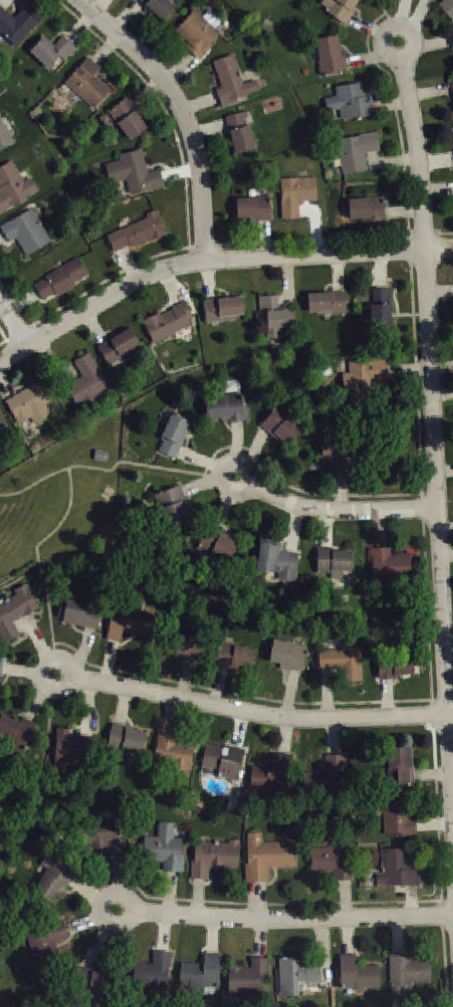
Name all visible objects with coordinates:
road: (2, 2)
road: (99, 5)
building: (159, 7)
building: (447, 7)
park: (254, 8)
building: (340, 8)
road: (386, 12)
road: (403, 13)
road: (127, 15)
road: (418, 17)
building: (16, 24)
road: (81, 26)
road: (366, 26)
road: (392, 26)
building: (197, 33)
road: (432, 45)
road: (107, 48)
building: (52, 49)
building: (330, 55)
road: (366, 58)
road: (179, 67)
building: (231, 80)
building: (88, 82)
building: (452, 82)
road: (148, 90)
road: (430, 92)
building: (350, 101)
road: (201, 104)
road: (392, 104)
road: (166, 110)
road: (183, 111)
building: (128, 117)
road: (210, 129)
building: (240, 132)
building: (5, 135)
building: (356, 150)
road: (436, 161)
road: (390, 162)
building: (134, 172)
road: (180, 172)
building: (13, 186)
road: (437, 188)
building: (296, 194)
building: (254, 208)
building: (367, 208)
road: (403, 211)
road: (315, 226)
building: (26, 231)
road: (432, 231)
building: (138, 232)
road: (2, 234)
road: (264, 238)
road: (193, 246)
road: (229, 258)
road: (128, 264)
road: (381, 269)
road: (339, 272)
building: (61, 278)
road: (209, 279)
road: (288, 282)
road: (170, 286)
road: (440, 291)
road: (23, 301)
building: (328, 302)
building: (223, 308)
building: (380, 309)
building: (276, 314)
road: (13, 321)
building: (169, 321)
road: (95, 327)
road: (6, 341)
building: (119, 346)
road: (13, 352)
road: (54, 362)
road: (442, 367)
road: (409, 368)
building: (364, 374)
building: (88, 382)
road: (5, 387)
road: (442, 392)
building: (30, 402)
building: (226, 407)
building: (281, 426)
building: (4, 427)
building: (174, 435)
road: (434, 437)
road: (237, 440)
road: (256, 446)
road: (420, 448)
building: (338, 453)
building: (101, 455)
road: (198, 459)
road: (101, 469)
road: (444, 471)
road: (199, 485)
road: (299, 489)
road: (343, 491)
road: (286, 501)
park: (64, 503)
building: (173, 506)
road: (222, 511)
road: (295, 528)
road: (326, 528)
road: (381, 528)
road: (446, 528)
building: (217, 544)
road: (38, 555)
road: (446, 555)
building: (277, 558)
building: (333, 559)
building: (388, 565)
building: (15, 611)
building: (79, 612)
building: (130, 623)
road: (35, 634)
road: (448, 638)
building: (185, 641)
road: (85, 647)
building: (288, 654)
building: (234, 656)
road: (109, 661)
building: (342, 661)
building: (1, 664)
building: (395, 666)
road: (449, 667)
road: (20, 669)
road: (187, 677)
road: (219, 685)
road: (291, 693)
road: (245, 694)
road: (328, 694)
road: (388, 697)
road: (201, 702)
road: (37, 703)
road: (123, 706)
road: (89, 708)
road: (171, 716)
road: (451, 720)
road: (240, 729)
building: (15, 732)
road: (285, 735)
road: (333, 737)
building: (126, 738)
building: (73, 742)
building: (174, 754)
building: (225, 761)
building: (400, 765)
road: (432, 774)
building: (273, 775)
building: (328, 776)
road: (452, 796)
road: (39, 804)
building: (398, 816)
road: (434, 825)
building: (107, 835)
building: (164, 848)
building: (213, 856)
building: (267, 856)
building: (333, 861)
building: (397, 868)
road: (118, 874)
building: (53, 878)
road: (86, 889)
road: (171, 892)
road: (198, 897)
road: (344, 899)
road: (256, 900)
road: (412, 901)
road: (272, 904)
road: (100, 908)
road: (293, 919)
road: (82, 921)
road: (164, 932)
road: (213, 935)
road: (399, 935)
road: (348, 936)
road: (261, 939)
building: (46, 941)
road: (95, 946)
road: (325, 952)
road: (445, 953)
building: (406, 971)
building: (152, 972)
building: (200, 973)
building: (357, 973)
building: (296, 975)
building: (248, 976)
building: (93, 981)

